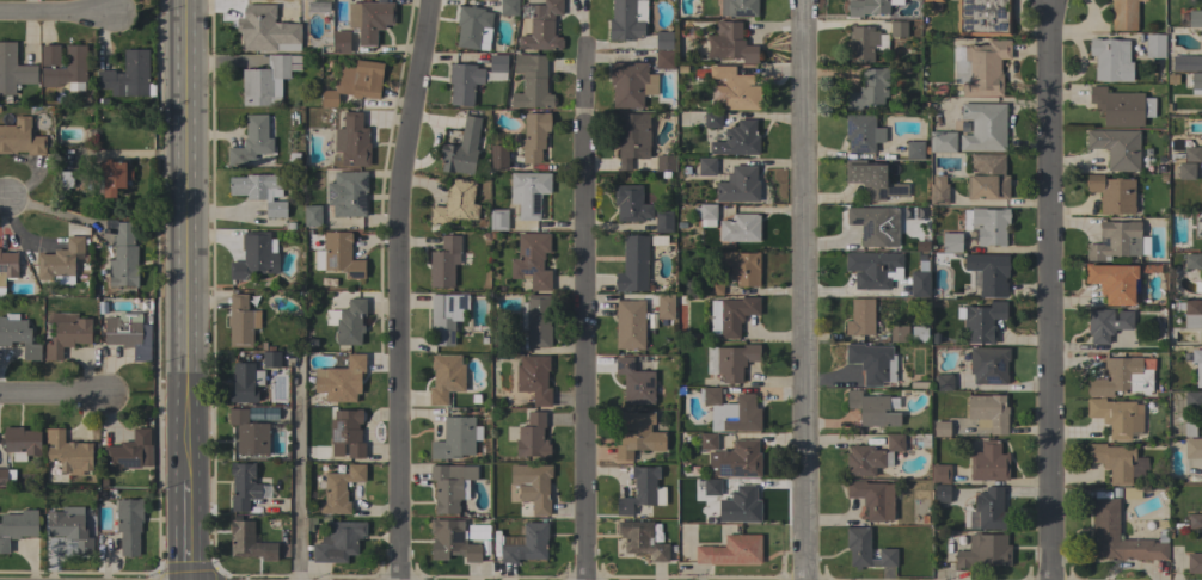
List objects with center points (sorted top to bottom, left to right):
building: (931, 1)
building: (508, 7)
building: (738, 7)
building: (869, 7)
road: (57, 14)
building: (1123, 14)
building: (983, 18)
building: (1195, 18)
building: (369, 19)
building: (627, 19)
building: (541, 26)
building: (473, 27)
building: (897, 29)
building: (265, 30)
building: (663, 41)
building: (341, 42)
building: (864, 43)
building: (729, 44)
building: (1154, 45)
building: (49, 55)
building: (664, 60)
building: (1110, 60)
building: (1185, 62)
building: (497, 63)
building: (981, 68)
building: (67, 69)
building: (13, 72)
building: (128, 76)
building: (266, 81)
building: (531, 82)
building: (464, 84)
building: (631, 84)
building: (1196, 84)
building: (354, 85)
building: (734, 90)
building: (867, 90)
building: (1121, 106)
building: (712, 119)
building: (983, 127)
building: (861, 132)
building: (534, 136)
building: (631, 137)
building: (20, 138)
building: (737, 140)
building: (251, 141)
building: (351, 141)
building: (942, 141)
building: (1116, 148)
building: (461, 149)
building: (915, 149)
building: (1185, 155)
building: (497, 156)
building: (664, 165)
building: (706, 166)
building: (1185, 171)
building: (987, 177)
building: (65, 179)
building: (111, 179)
building: (873, 180)
building: (738, 184)
building: (260, 191)
building: (528, 192)
building: (938, 192)
building: (347, 193)
building: (1112, 193)
road: (4, 200)
building: (455, 203)
building: (630, 203)
building: (705, 214)
building: (312, 216)
building: (498, 220)
building: (663, 221)
building: (987, 224)
building: (875, 226)
building: (740, 228)
building: (1117, 241)
building: (951, 242)
building: (341, 254)
building: (123, 257)
building: (253, 257)
building: (532, 260)
building: (60, 261)
building: (443, 261)
building: (1192, 261)
building: (632, 264)
building: (740, 266)
building: (875, 267)
building: (7, 269)
building: (989, 272)
building: (1115, 282)
building: (919, 283)
building: (712, 285)
road: (398, 288)
road: (185, 290)
road: (803, 290)
road: (1053, 290)
building: (664, 306)
building: (1191, 314)
building: (731, 315)
building: (446, 316)
road: (587, 316)
building: (860, 317)
building: (535, 320)
building: (240, 321)
building: (348, 321)
building: (981, 321)
building: (630, 323)
building: (1106, 323)
building: (66, 333)
building: (899, 333)
building: (128, 334)
building: (919, 334)
building: (18, 335)
building: (270, 357)
building: (735, 362)
building: (873, 362)
building: (988, 365)
building: (1197, 365)
building: (1123, 376)
building: (444, 377)
building: (534, 378)
building: (341, 380)
building: (634, 382)
building: (944, 382)
building: (243, 383)
road: (53, 395)
building: (1192, 400)
building: (871, 409)
building: (731, 411)
building: (268, 413)
building: (988, 413)
building: (1116, 417)
building: (1190, 426)
building: (940, 428)
building: (249, 433)
building: (347, 433)
building: (637, 434)
building: (532, 437)
building: (454, 438)
building: (709, 442)
building: (22, 443)
building: (1192, 449)
building: (67, 451)
building: (125, 451)
building: (871, 457)
building: (736, 459)
building: (988, 462)
building: (1117, 462)
road: (296, 467)
building: (940, 474)
building: (6, 476)
building: (243, 486)
building: (532, 486)
building: (711, 487)
building: (448, 488)
building: (339, 489)
building: (639, 489)
building: (940, 493)
building: (1130, 493)
building: (872, 499)
building: (740, 506)
building: (985, 510)
building: (1105, 516)
building: (1195, 520)
building: (129, 525)
building: (17, 526)
building: (69, 526)
building: (640, 539)
building: (453, 541)
building: (249, 542)
building: (338, 542)
building: (527, 544)
building: (866, 549)
building: (731, 550)
building: (985, 550)
building: (1194, 563)

